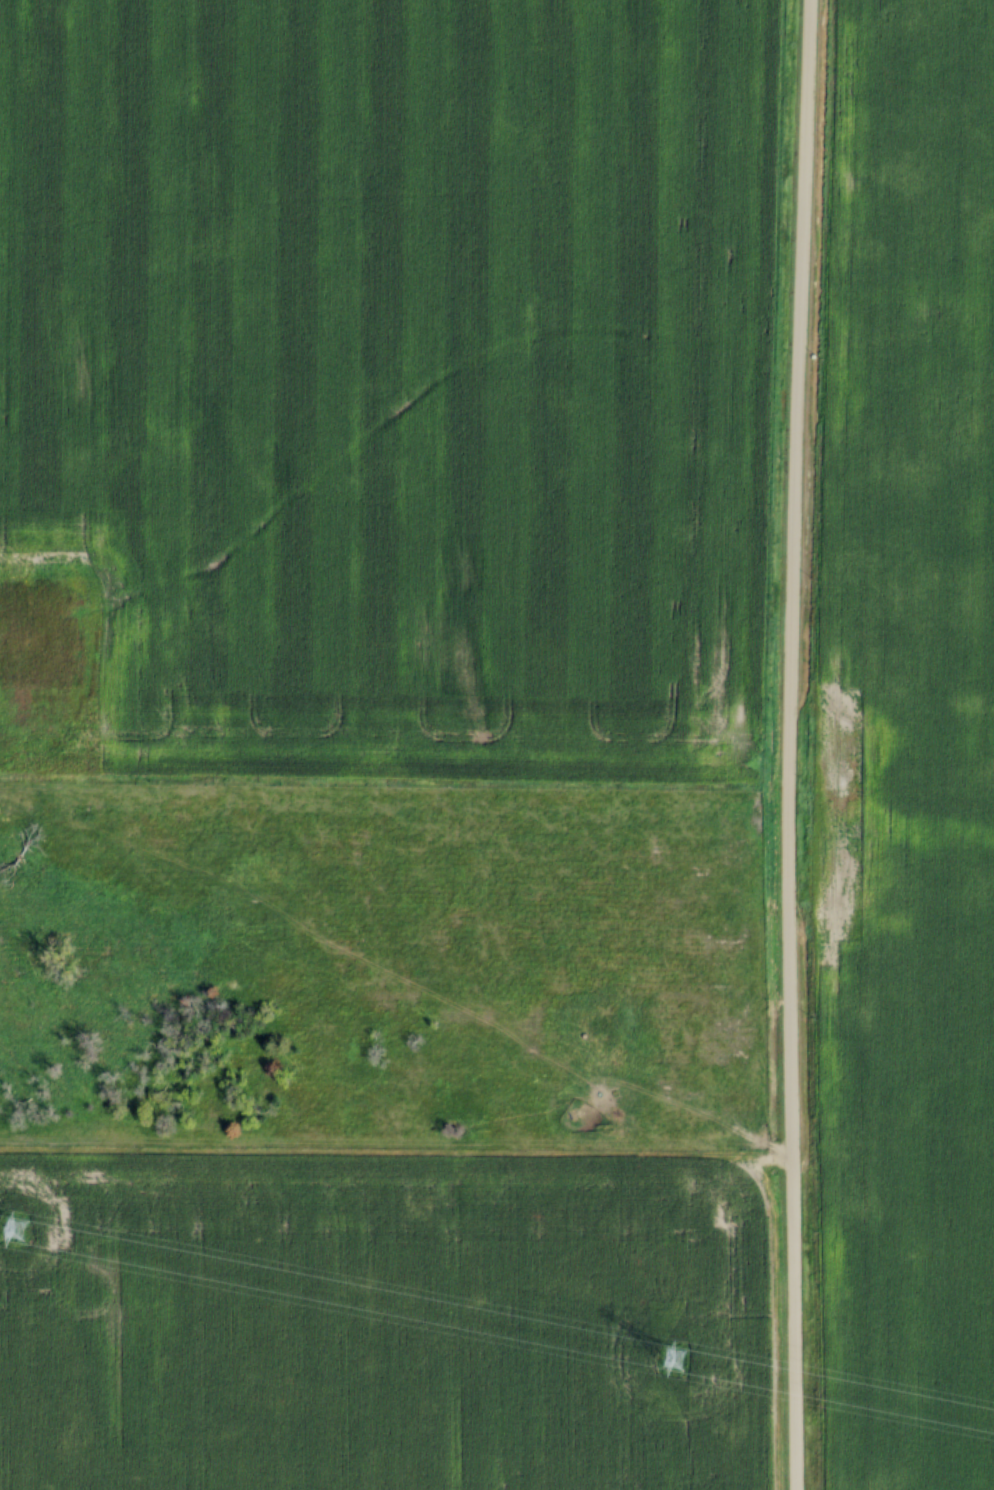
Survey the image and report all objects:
road: (787, 744)
road: (402, 992)
power tower: (6, 1219)
power tower: (668, 1343)

